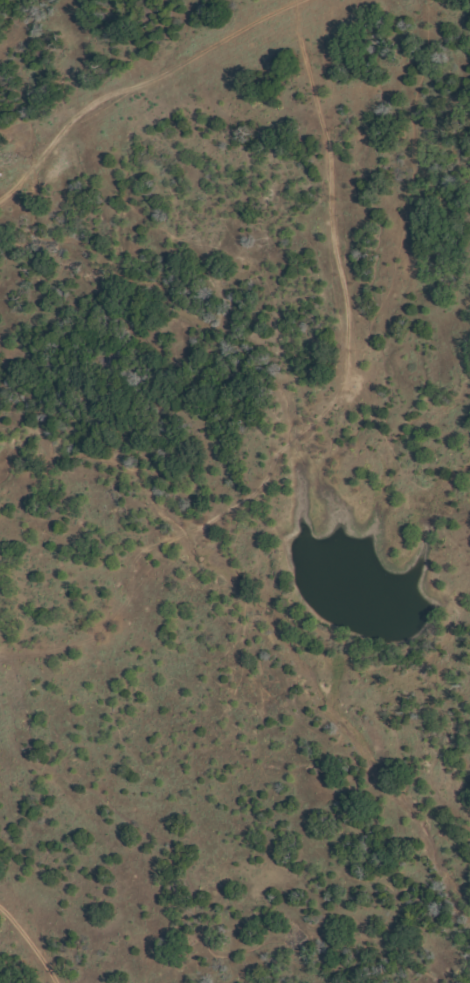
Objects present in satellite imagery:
road: (364, 440)
road: (31, 947)

